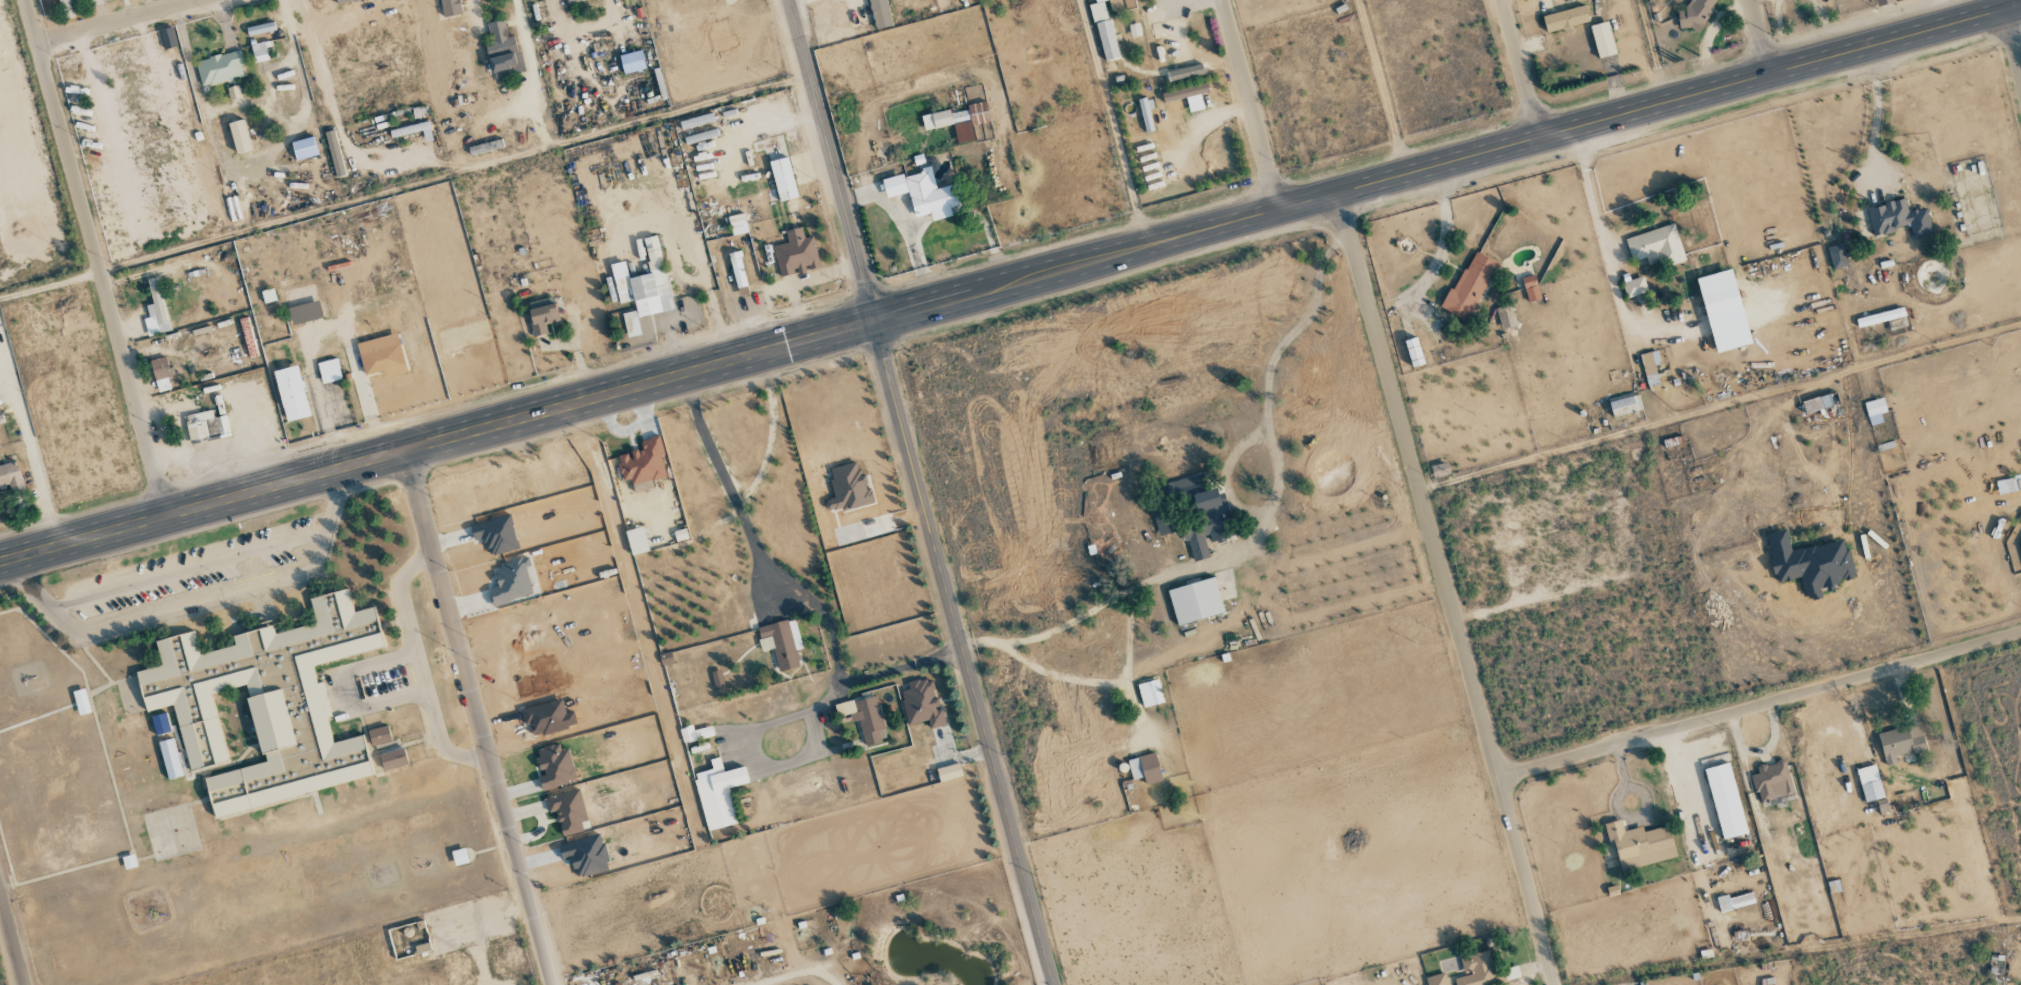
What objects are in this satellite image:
building: (565, 0)
building: (960, 0)
building: (342, 1)
building: (97, 2)
building: (450, 7)
building: (66, 9)
building: (1097, 10)
building: (879, 13)
building: (1695, 14)
building: (1565, 18)
road: (113, 21)
road: (2017, 35)
road: (1760, 37)
building: (168, 38)
building: (1602, 39)
building: (1107, 40)
building: (502, 51)
building: (259, 52)
building: (631, 62)
building: (220, 68)
road: (1520, 69)
building: (1185, 72)
road: (1382, 87)
building: (233, 92)
building: (1188, 96)
road: (1250, 105)
building: (1146, 113)
building: (962, 120)
building: (239, 136)
building: (304, 148)
building: (334, 153)
building: (783, 179)
building: (922, 193)
building: (1898, 219)
building: (737, 224)
building: (1656, 244)
road: (1441, 249)
building: (796, 253)
building: (1837, 256)
road: (93, 259)
building: (737, 269)
road: (1010, 284)
building: (1469, 285)
building: (643, 287)
building: (1634, 287)
building: (1531, 288)
building: (1718, 292)
building: (302, 303)
building: (155, 311)
building: (542, 315)
building: (1506, 317)
building: (1880, 317)
building: (1413, 352)
building: (381, 356)
building: (1650, 368)
building: (329, 371)
building: (161, 373)
building: (291, 393)
building: (1817, 404)
building: (1625, 405)
road: (1720, 409)
building: (1875, 410)
building: (205, 426)
building: (642, 461)
building: (1440, 470)
building: (9, 474)
building: (847, 487)
road: (919, 492)
building: (1161, 523)
building: (1206, 523)
building: (2020, 529)
building: (1809, 564)
road: (1446, 589)
road: (197, 600)
building: (1195, 600)
building: (781, 642)
road: (419, 664)
building: (717, 678)
building: (1150, 693)
building: (922, 703)
building: (266, 705)
road: (1760, 706)
building: (864, 716)
road: (478, 717)
building: (695, 733)
building: (379, 735)
building: (1902, 743)
building: (393, 758)
building: (554, 766)
building: (1144, 768)
building: (948, 772)
building: (1772, 781)
building: (1869, 782)
building: (718, 793)
building: (1725, 800)
building: (568, 811)
building: (1639, 844)
building: (585, 855)
building: (1734, 901)
road: (12, 939)
building: (1483, 971)
building: (1436, 979)

